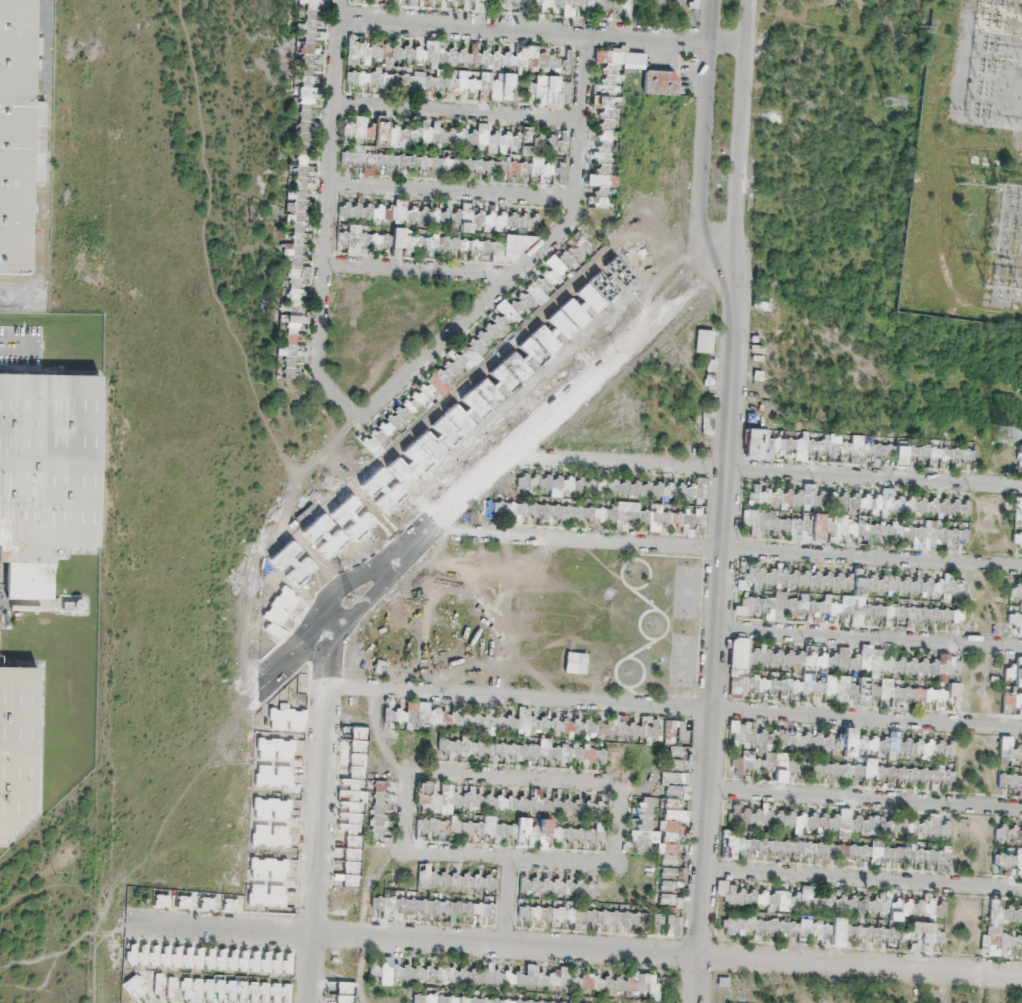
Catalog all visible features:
power tower: (886, 98)
power substation: (973, 164)
power tower: (1002, 438)
power tower: (354, 597)
park: (652, 626)
power tower: (52, 877)

